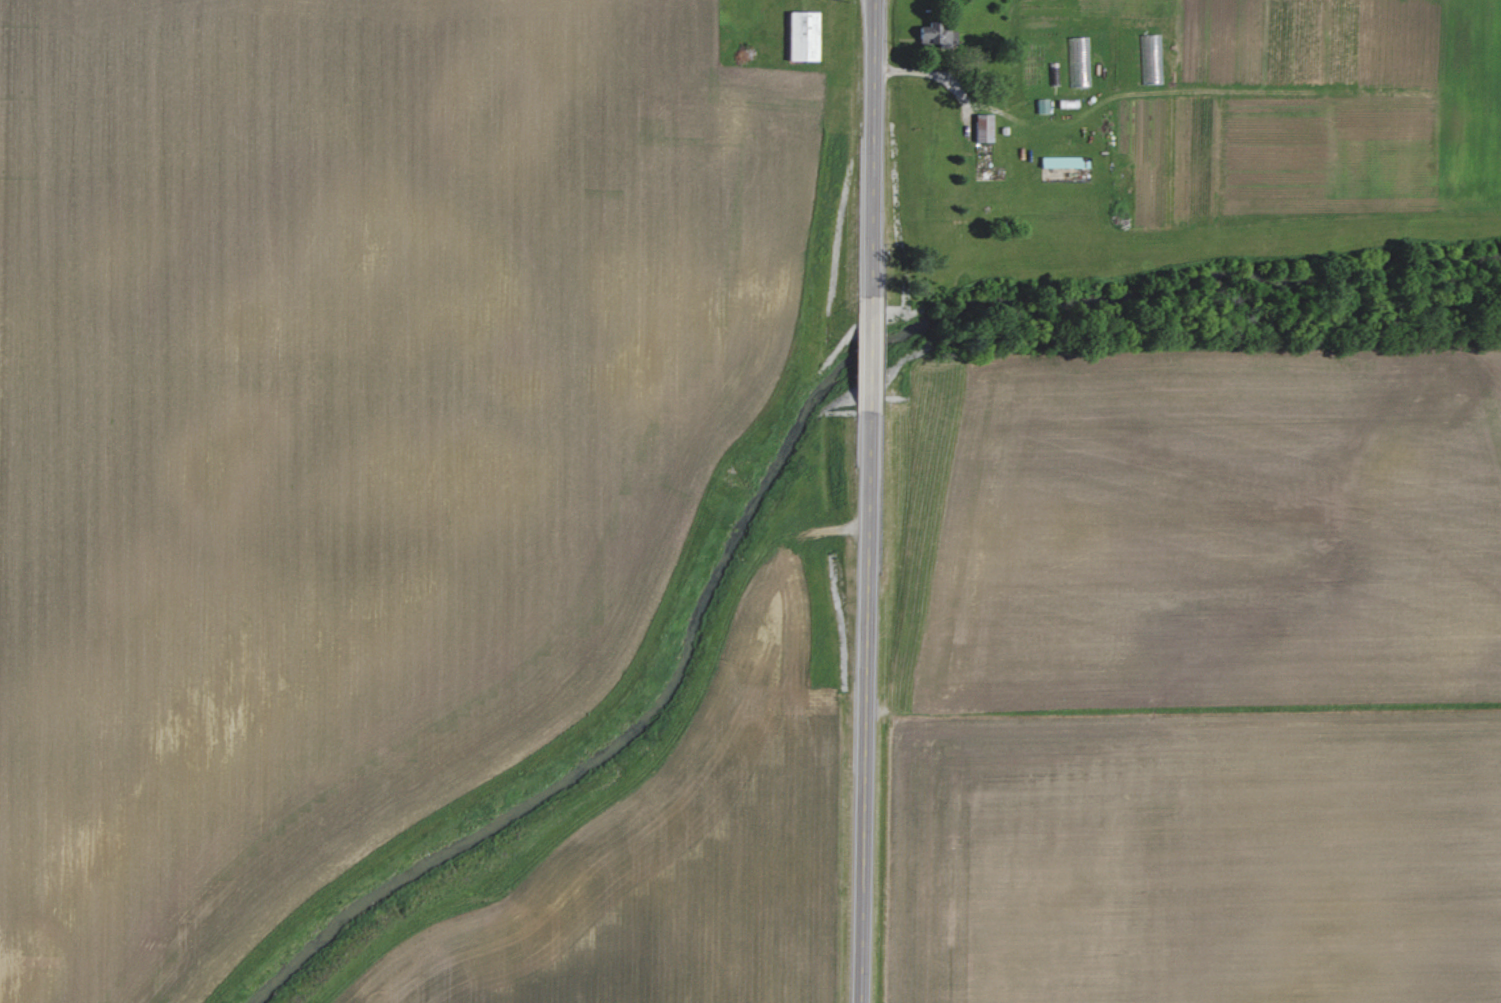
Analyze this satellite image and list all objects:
building: (935, 34)
building: (802, 35)
building: (1042, 105)
building: (983, 126)
road: (878, 152)
building: (1061, 161)
road: (879, 363)
road: (875, 712)

